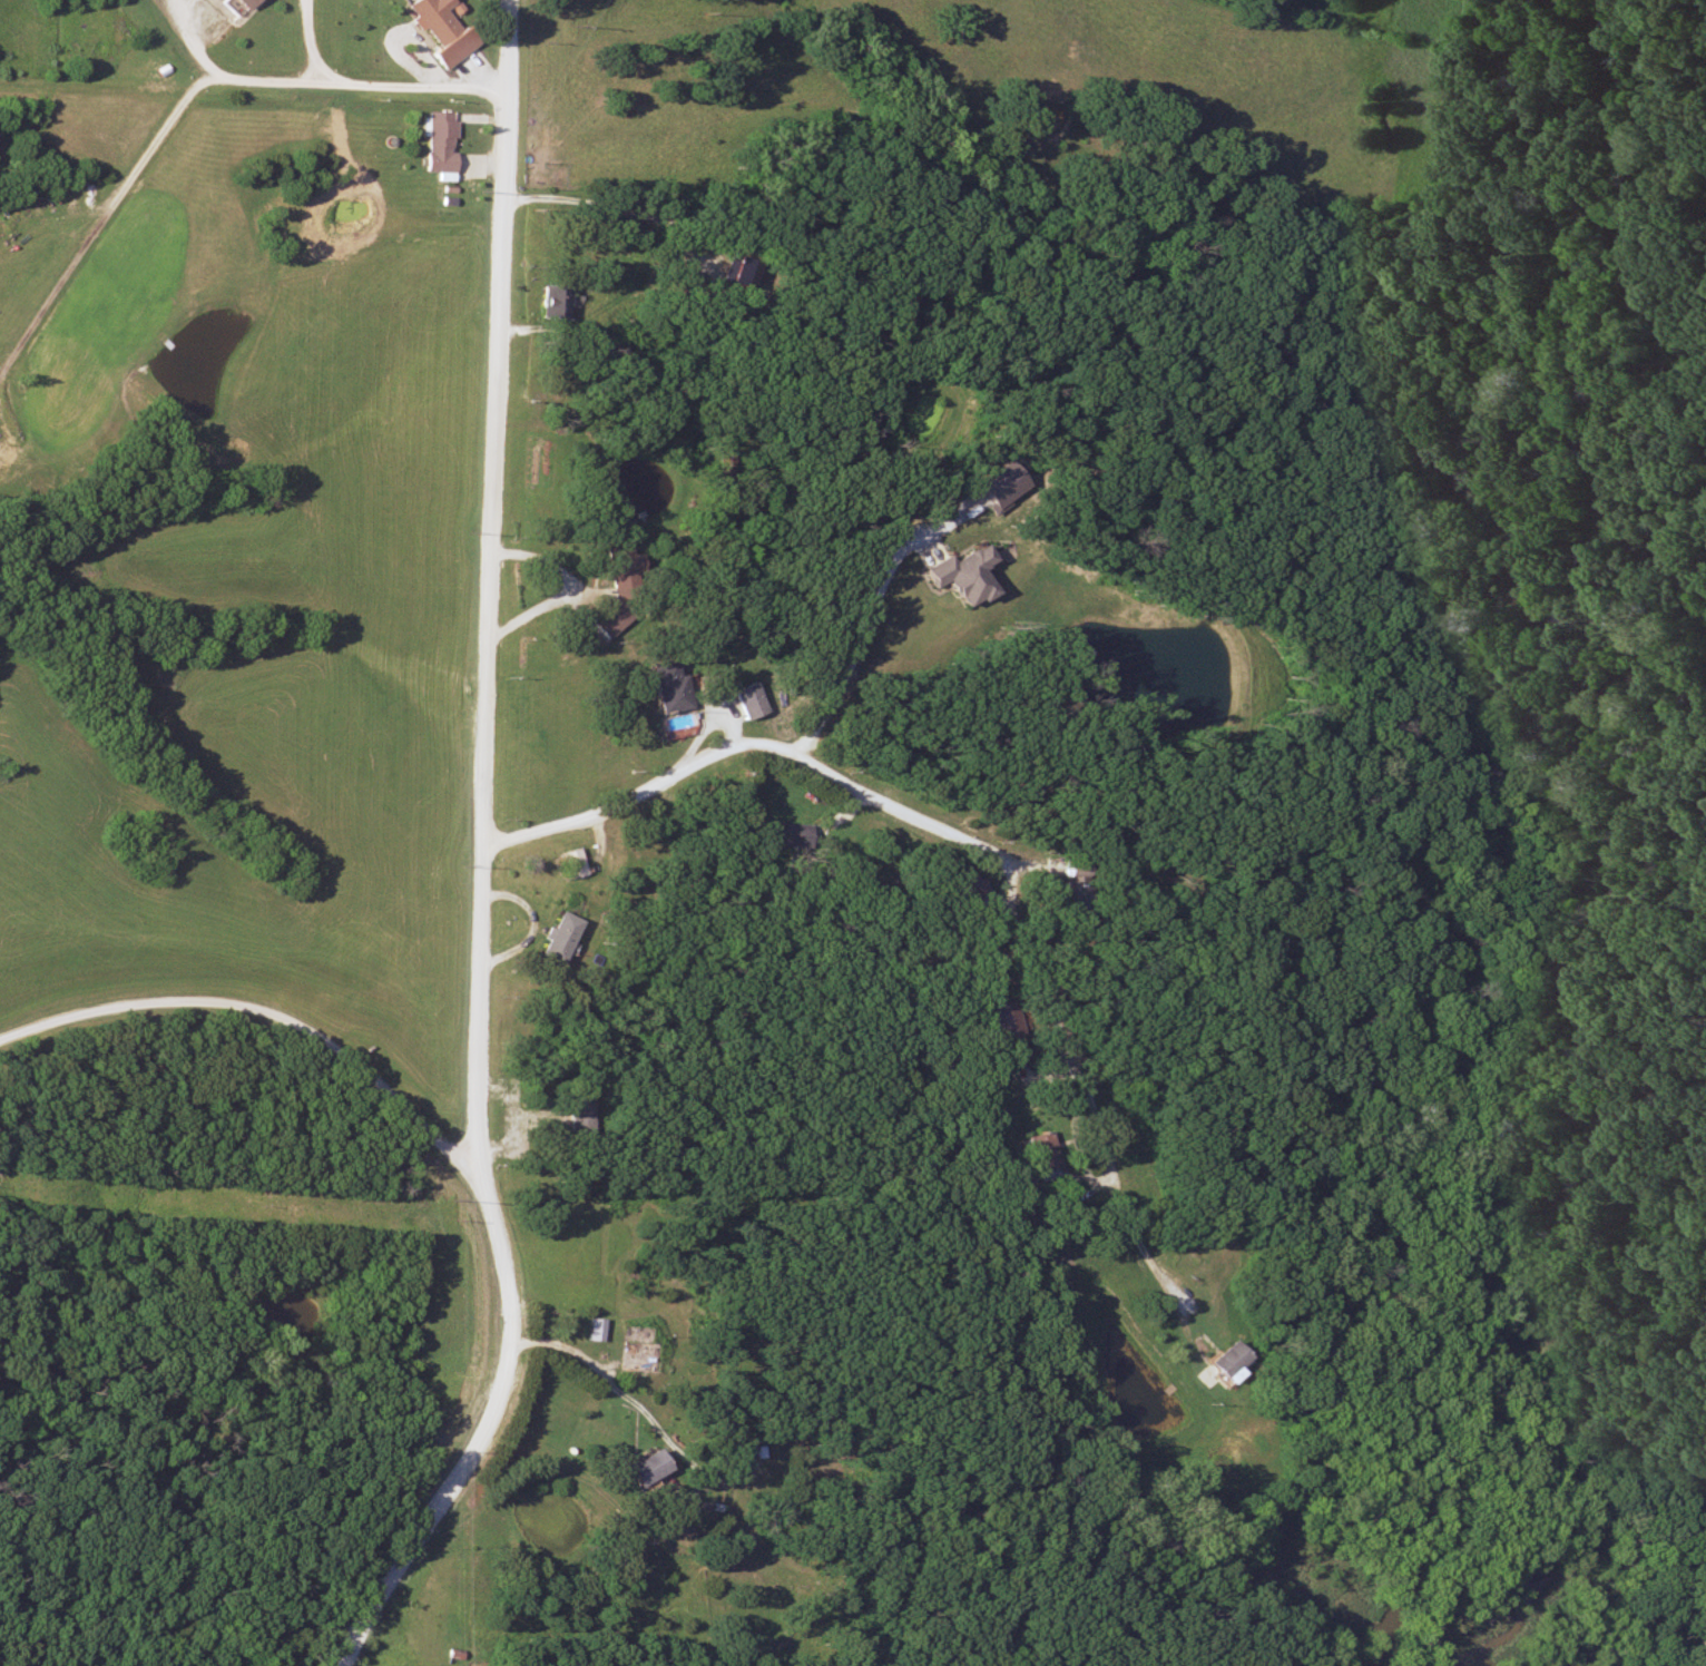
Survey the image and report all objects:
building: (238, 3)
building: (430, 20)
road: (317, 88)
building: (435, 144)
building: (551, 303)
building: (617, 566)
building: (957, 576)
building: (665, 687)
building: (743, 700)
road: (752, 754)
building: (791, 834)
road: (481, 855)
building: (571, 863)
building: (1069, 898)
building: (555, 938)
building: (1002, 1020)
building: (579, 1107)
building: (1036, 1150)
building: (590, 1330)
building: (1219, 1362)
road: (762, 1430)
building: (638, 1468)
road: (316, 1512)

